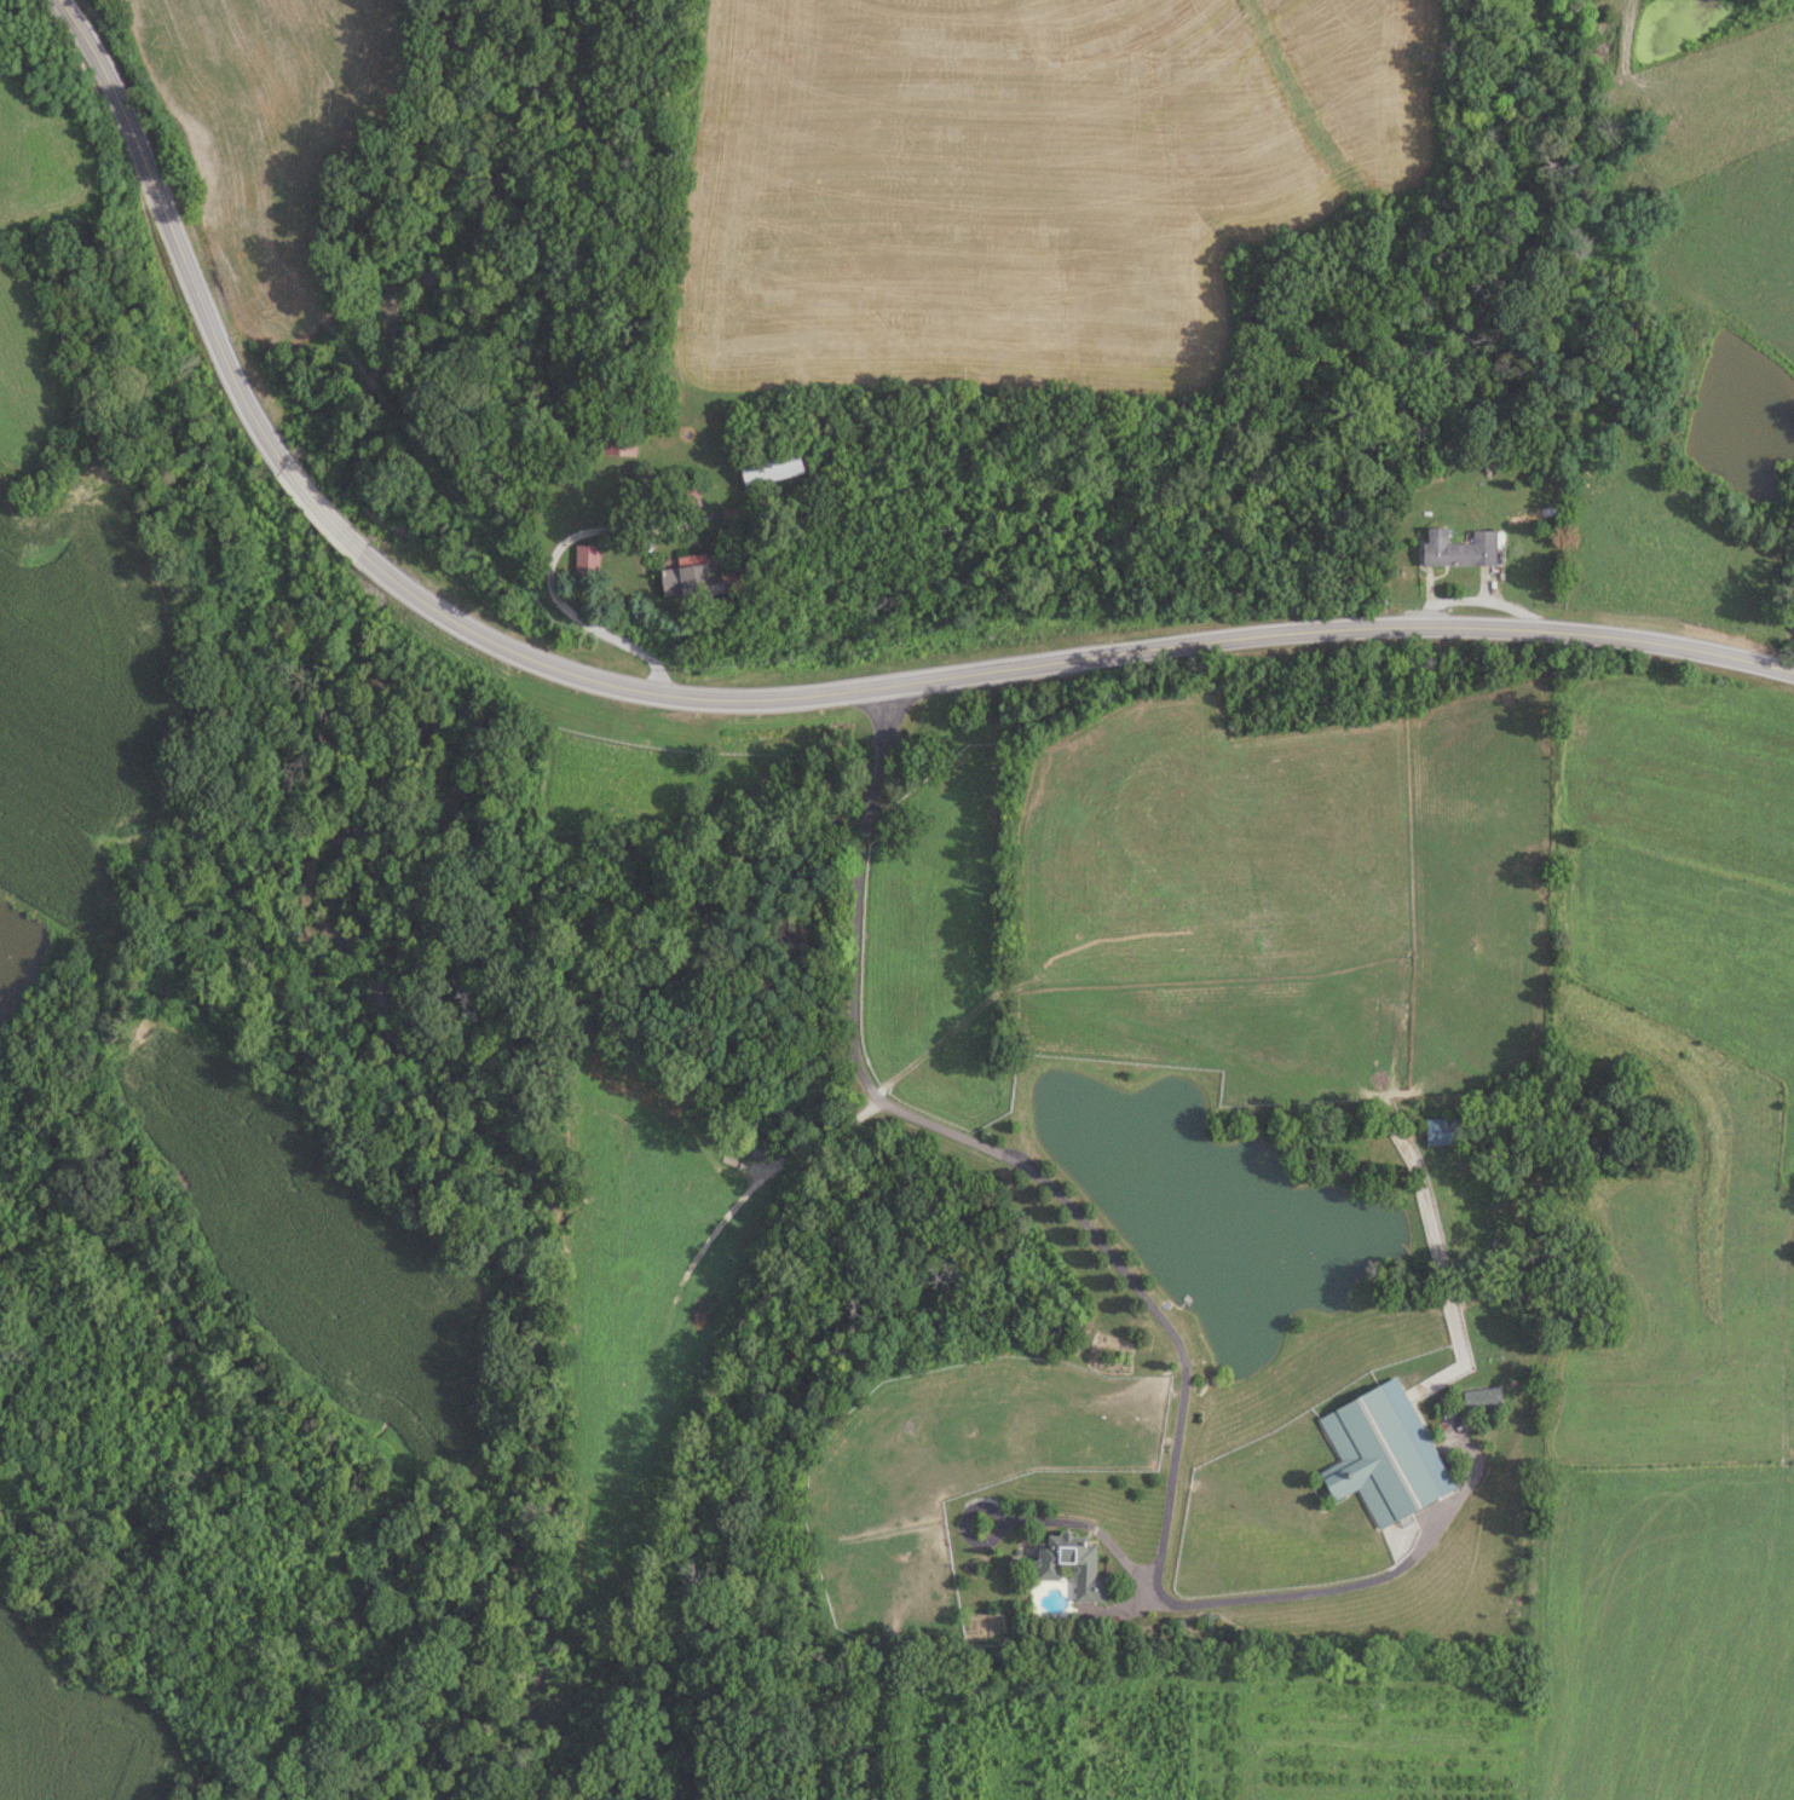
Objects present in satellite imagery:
road: (94, 56)
road: (197, 293)
building: (621, 442)
building: (766, 467)
building: (683, 497)
road: (323, 512)
building: (1455, 548)
building: (584, 562)
building: (686, 578)
road: (553, 596)
road: (1486, 629)
road: (754, 698)
building: (1440, 1131)
road: (825, 1133)
road: (1015, 1160)
building: (1479, 1400)
building: (1381, 1454)
building: (1069, 1564)
road: (1354, 1569)

